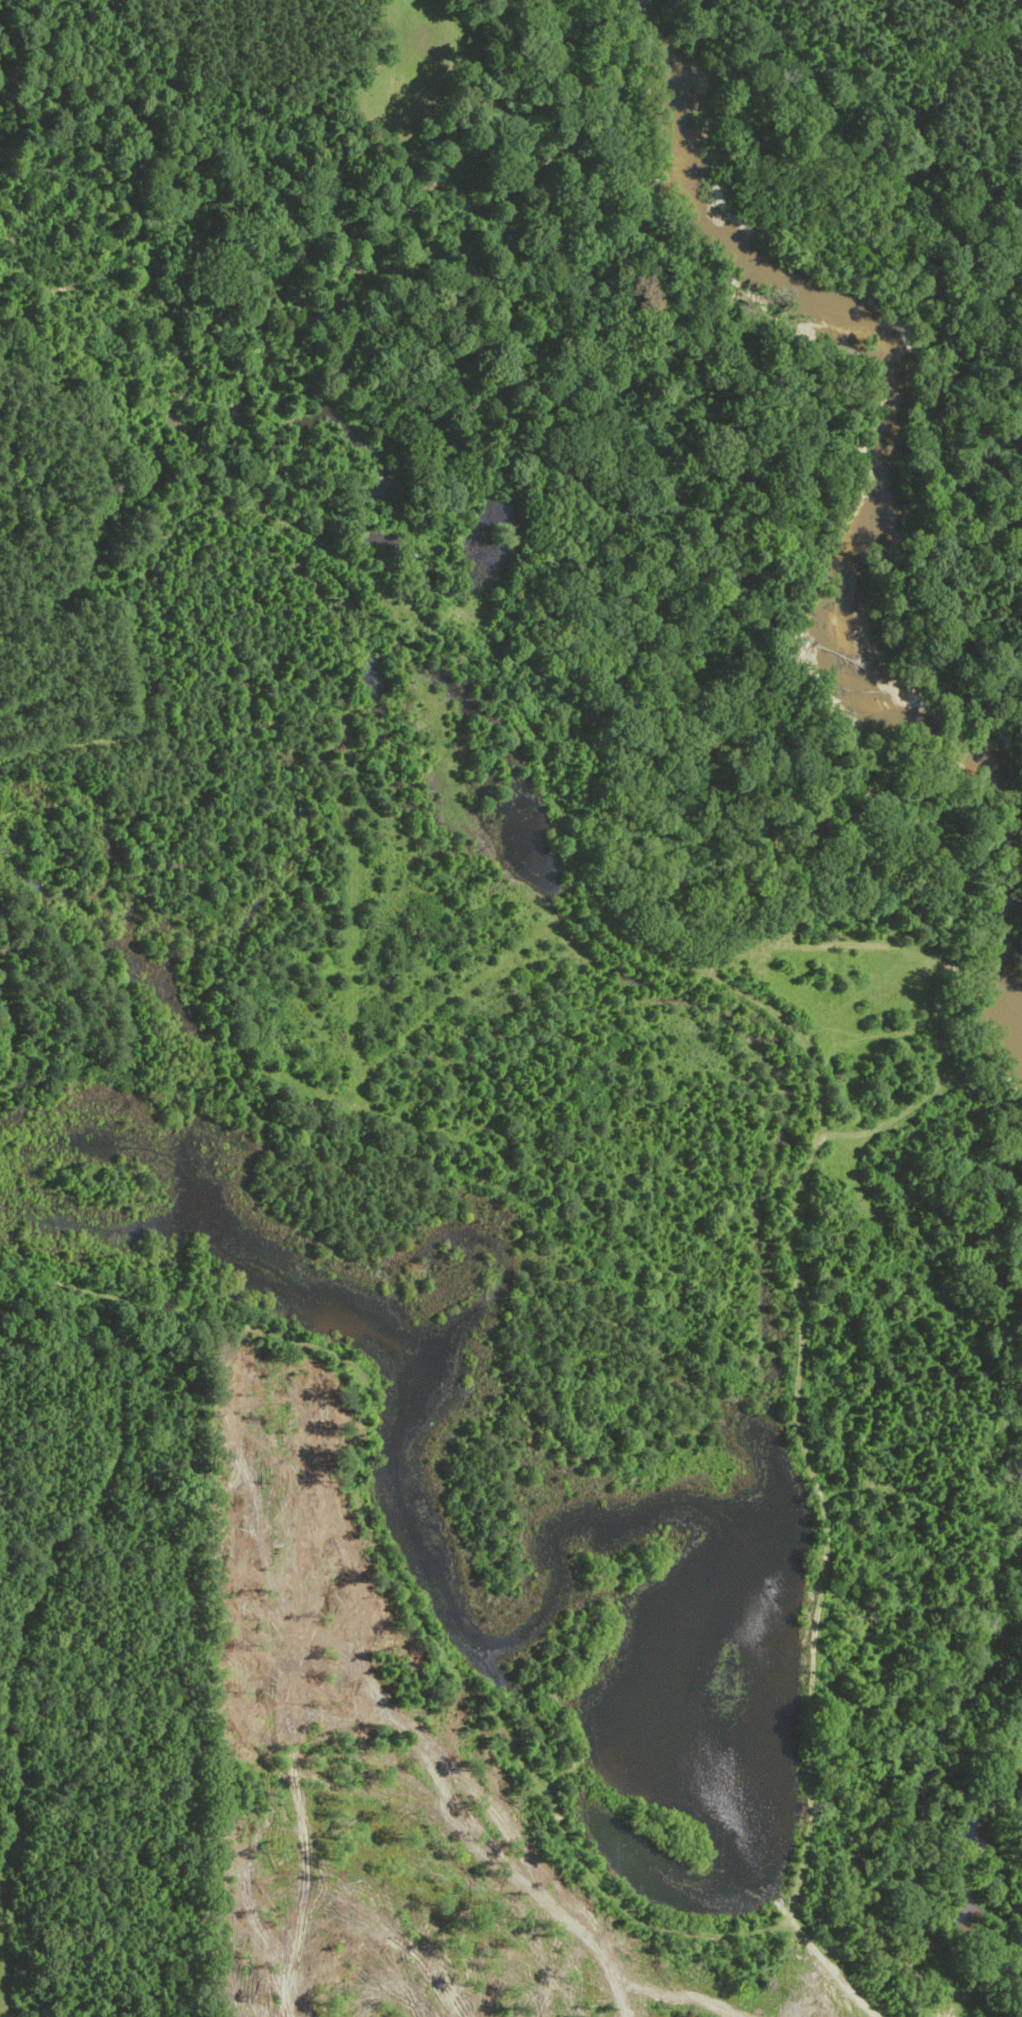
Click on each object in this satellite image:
river: (885, 407)
river: (1010, 959)
road: (829, 2003)

